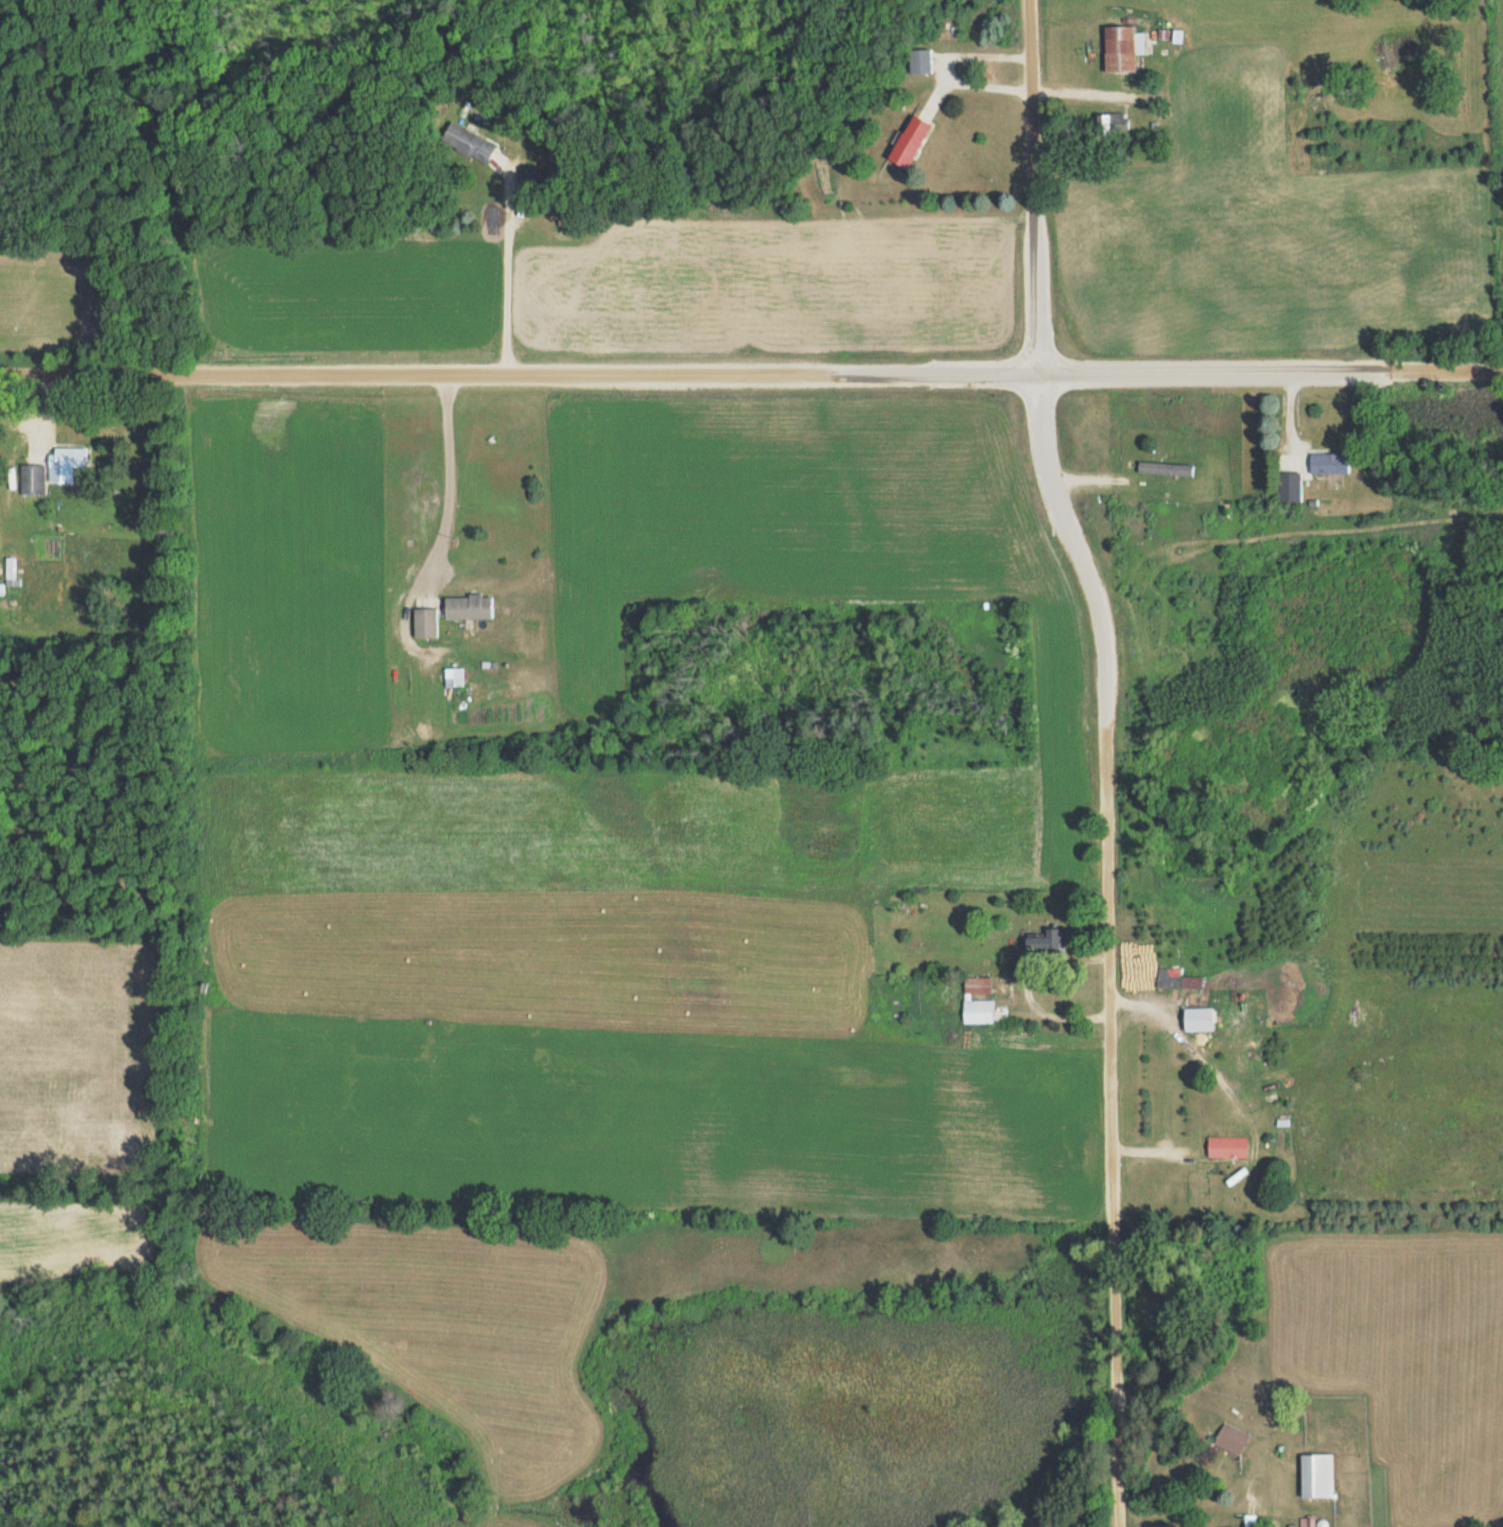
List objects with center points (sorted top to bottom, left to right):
building: (1122, 48)
road: (980, 55)
building: (919, 61)
road: (976, 83)
building: (1114, 123)
building: (909, 142)
building: (466, 143)
road: (1036, 187)
road: (509, 268)
road: (1303, 372)
road: (1073, 374)
road: (520, 375)
building: (67, 456)
building: (1328, 461)
building: (1164, 467)
building: (32, 479)
road: (451, 481)
building: (1288, 486)
building: (467, 606)
building: (424, 622)
building: (1044, 940)
road: (1112, 950)
building: (1176, 978)
building: (977, 985)
building: (977, 1010)
building: (1198, 1018)
building: (1227, 1146)
building: (1231, 1438)
building: (1316, 1475)
road: (1265, 1520)

